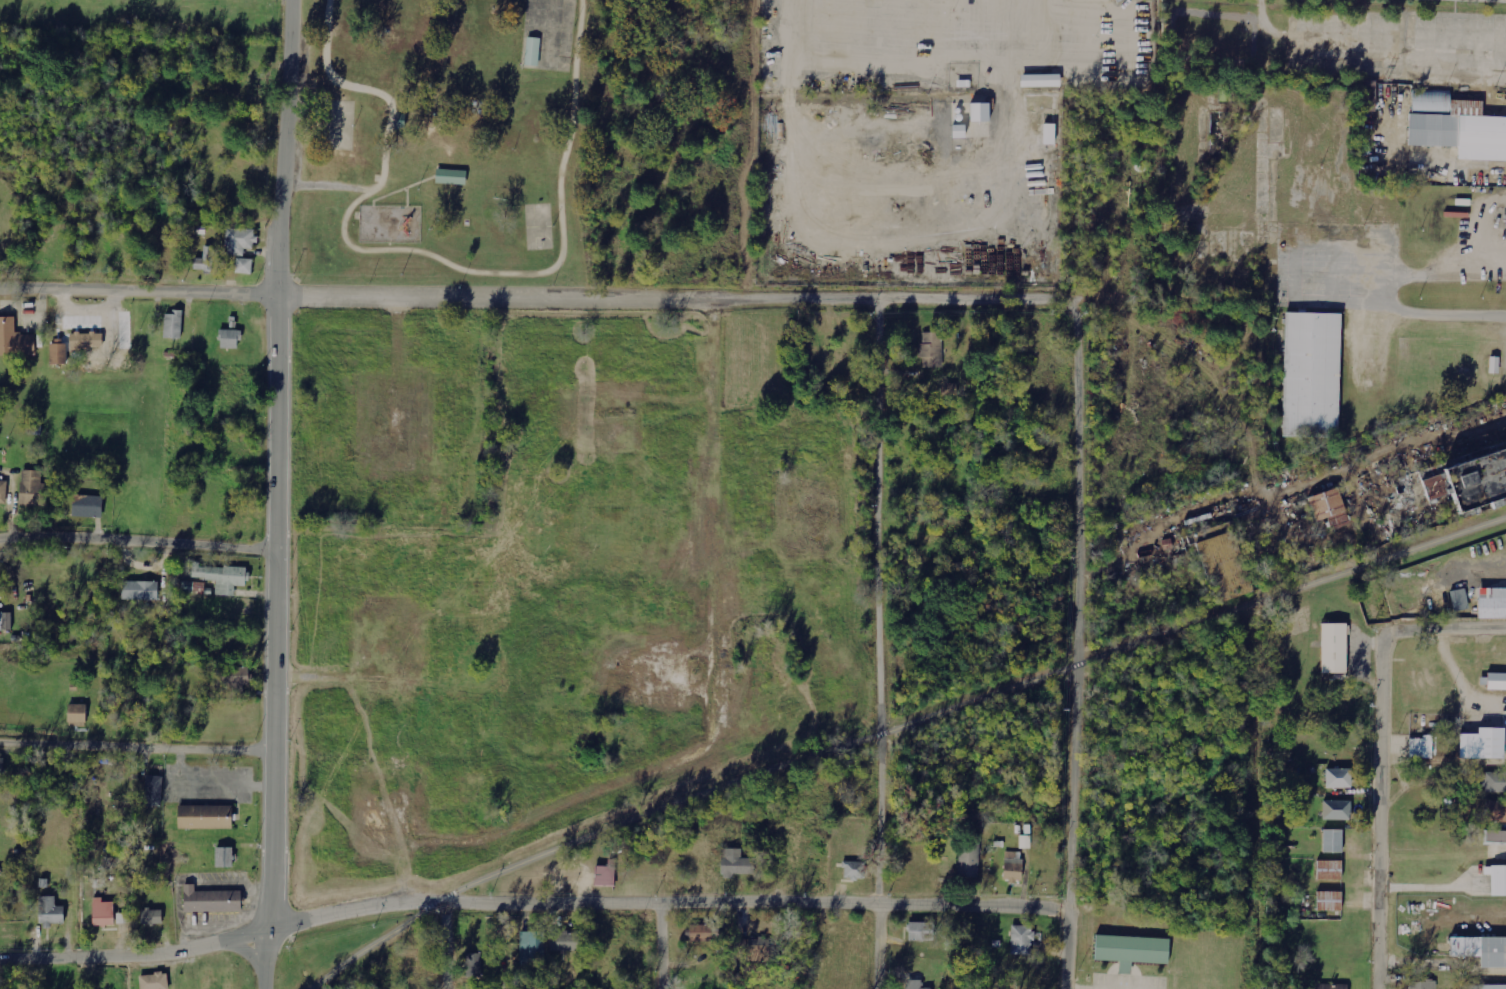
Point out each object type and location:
building: (530, 49)
building: (1040, 81)
building: (979, 112)
park: (339, 123)
building: (1455, 126)
building: (957, 132)
building: (1049, 134)
park: (525, 141)
building: (449, 174)
building: (1505, 221)
park: (537, 224)
building: (240, 241)
road: (434, 255)
building: (205, 260)
building: (244, 266)
road: (538, 294)
building: (173, 325)
building: (230, 339)
building: (86, 341)
building: (13, 342)
building: (931, 351)
building: (59, 353)
building: (1493, 365)
building: (1310, 376)
building: (948, 389)
building: (1467, 481)
building: (32, 488)
building: (3, 492)
road: (275, 494)
building: (87, 506)
building: (1328, 508)
road: (137, 539)
building: (1223, 564)
building: (222, 577)
building: (141, 591)
building: (1459, 601)
building: (7, 622)
road: (1443, 631)
road: (1077, 641)
road: (884, 643)
building: (1333, 649)
building: (233, 677)
building: (1495, 680)
road: (711, 705)
building: (76, 714)
road: (889, 715)
road: (137, 741)
building: (1481, 743)
building: (1417, 747)
building: (1, 766)
building: (1335, 778)
building: (1489, 780)
building: (154, 791)
building: (1330, 809)
building: (1494, 810)
road: (1379, 811)
building: (203, 819)
building: (1493, 837)
building: (1329, 841)
building: (1025, 842)
building: (224, 857)
building: (969, 858)
building: (735, 863)
building: (1012, 867)
building: (853, 869)
building: (1326, 870)
building: (604, 876)
building: (1497, 880)
road: (530, 896)
building: (1325, 901)
building: (209, 902)
building: (51, 912)
building: (103, 912)
building: (151, 916)
building: (123, 918)
building: (921, 931)
building: (700, 933)
building: (1022, 940)
building: (565, 941)
road: (450, 942)
road: (669, 943)
building: (531, 948)
building: (758, 950)
building: (1129, 952)
building: (1480, 952)
building: (474, 965)
building: (154, 981)
building: (1421, 984)
building: (1327, 986)
building: (1489, 988)

